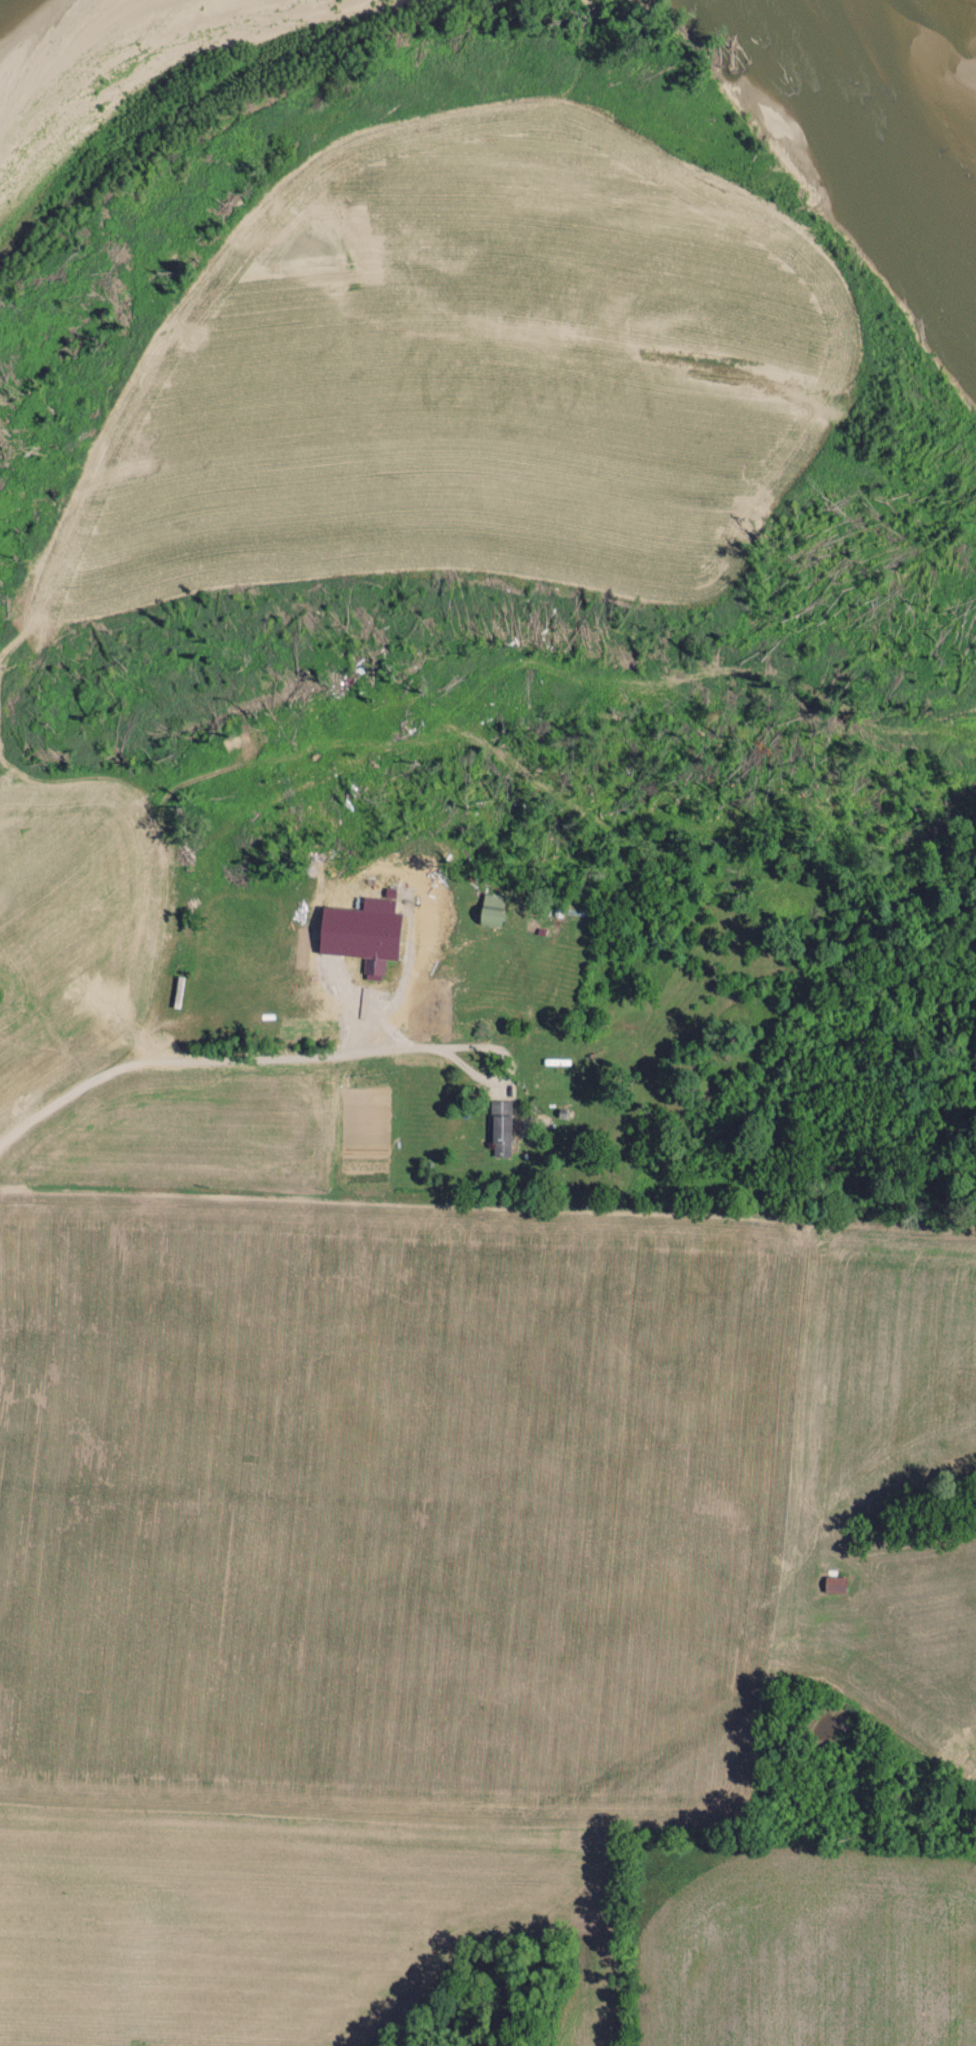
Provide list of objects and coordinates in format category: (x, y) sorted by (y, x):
river: (914, 51)
river: (122, 63)
building: (490, 911)
building: (361, 932)
road: (202, 1057)
building: (563, 1112)
building: (501, 1134)
building: (834, 1584)

